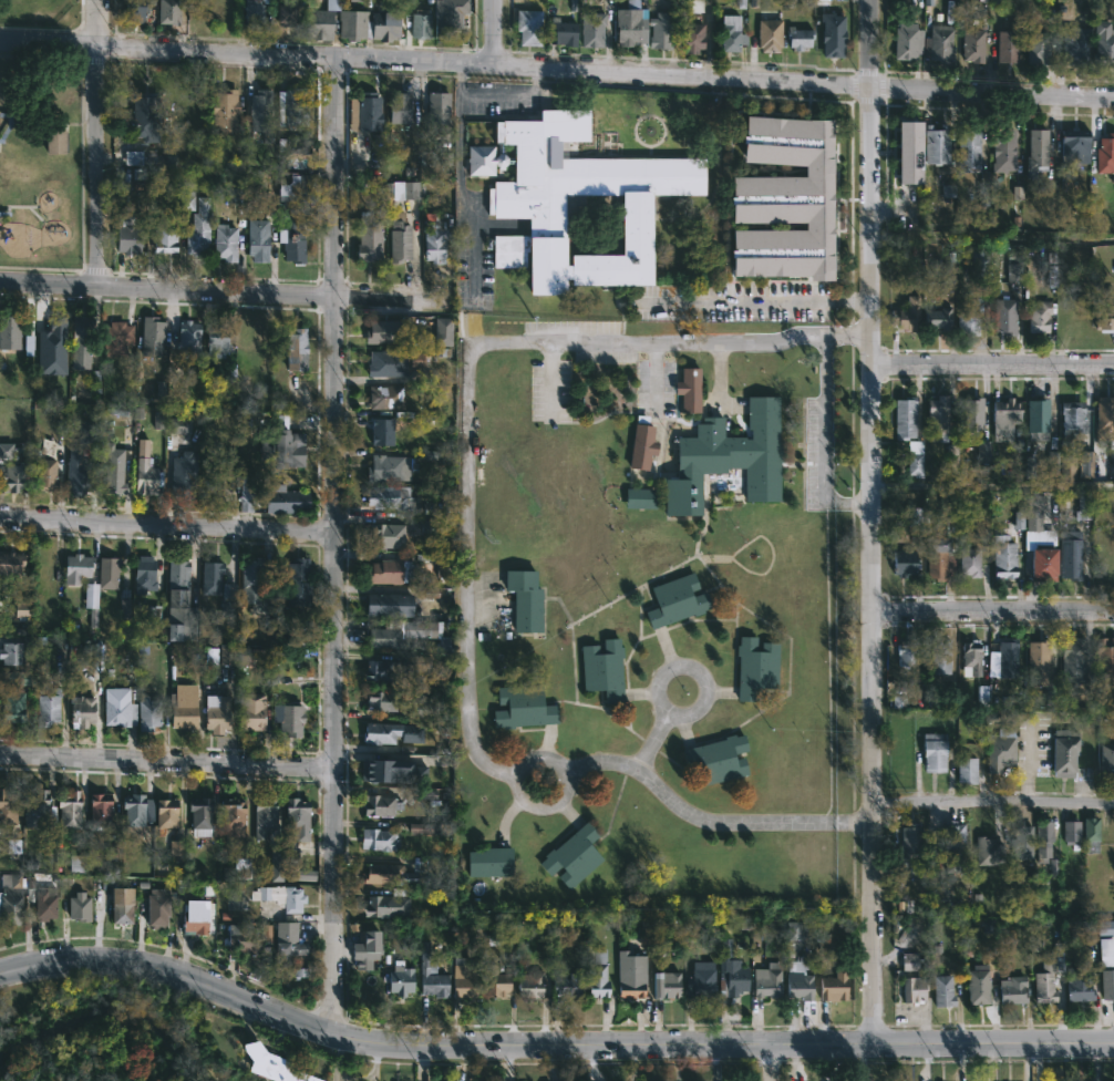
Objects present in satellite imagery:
building: (134, 10)
building: (252, 10)
building: (168, 11)
building: (207, 11)
building: (288, 12)
building: (452, 12)
building: (626, 22)
building: (318, 23)
building: (420, 23)
building: (354, 24)
building: (385, 24)
building: (529, 25)
building: (590, 29)
building: (659, 30)
building: (560, 31)
building: (729, 32)
road: (496, 33)
building: (831, 33)
building: (769, 34)
building: (691, 37)
building: (797, 38)
building: (906, 41)
building: (938, 42)
building: (1075, 43)
building: (1104, 43)
building: (972, 44)
building: (1038, 44)
building: (1009, 45)
road: (557, 71)
road: (493, 101)
building: (398, 107)
building: (437, 107)
building: (291, 109)
building: (258, 110)
building: (223, 111)
building: (367, 111)
building: (143, 119)
building: (902, 138)
building: (53, 142)
road: (99, 142)
building: (935, 144)
building: (1076, 145)
building: (1004, 150)
building: (1038, 150)
building: (291, 151)
building: (967, 151)
building: (1105, 154)
building: (138, 157)
building: (427, 158)
building: (484, 159)
building: (566, 188)
building: (405, 191)
building: (948, 191)
building: (293, 193)
building: (234, 196)
building: (186, 200)
building: (785, 200)
road: (457, 204)
building: (198, 229)
building: (368, 237)
building: (398, 237)
building: (125, 238)
building: (163, 238)
building: (256, 239)
building: (223, 241)
building: (290, 241)
building: (434, 245)
building: (978, 262)
building: (1013, 266)
road: (221, 291)
road: (756, 302)
building: (1104, 308)
building: (1004, 313)
building: (906, 315)
building: (968, 315)
building: (1039, 316)
building: (938, 318)
building: (382, 331)
building: (9, 332)
building: (79, 332)
building: (442, 332)
building: (149, 336)
building: (115, 338)
building: (187, 339)
building: (215, 341)
building: (52, 348)
building: (293, 350)
building: (416, 359)
building: (386, 362)
road: (992, 362)
road: (719, 370)
road: (468, 371)
road: (654, 379)
building: (689, 390)
building: (384, 397)
building: (115, 410)
building: (1004, 413)
building: (970, 415)
building: (1039, 415)
building: (905, 418)
building: (1071, 418)
building: (938, 419)
building: (1105, 420)
building: (157, 422)
building: (179, 426)
building: (381, 432)
road: (823, 444)
building: (47, 446)
building: (642, 446)
building: (280, 447)
building: (6, 451)
building: (983, 452)
building: (729, 457)
building: (915, 457)
building: (1085, 463)
building: (1051, 464)
building: (389, 466)
building: (1067, 469)
building: (145, 470)
building: (1029, 470)
building: (113, 471)
building: (43, 475)
building: (76, 475)
building: (180, 475)
building: (11, 478)
road: (993, 486)
building: (246, 494)
building: (275, 498)
building: (639, 498)
building: (391, 500)
building: (1084, 505)
building: (947, 509)
building: (1034, 512)
building: (912, 516)
building: (1018, 519)
road: (873, 522)
road: (166, 526)
building: (384, 536)
road: (334, 543)
building: (1070, 557)
building: (938, 558)
building: (1003, 559)
building: (902, 563)
building: (968, 563)
building: (436, 564)
building: (1044, 565)
building: (9, 566)
building: (75, 568)
building: (388, 572)
building: (107, 573)
building: (142, 576)
building: (209, 578)
building: (250, 581)
building: (296, 584)
building: (175, 585)
building: (91, 596)
building: (227, 599)
building: (526, 600)
building: (675, 600)
building: (388, 605)
building: (124, 608)
building: (21, 609)
road: (993, 612)
building: (179, 628)
building: (400, 632)
building: (11, 653)
building: (908, 653)
building: (940, 655)
building: (1041, 655)
building: (227, 656)
building: (972, 656)
building: (210, 657)
building: (1104, 657)
building: (1009, 659)
building: (1073, 659)
building: (414, 662)
building: (756, 666)
road: (667, 668)
building: (604, 670)
building: (380, 671)
building: (22, 678)
building: (981, 696)
building: (380, 701)
building: (898, 702)
building: (11, 706)
building: (45, 706)
building: (523, 706)
building: (419, 709)
building: (183, 710)
building: (216, 712)
building: (249, 712)
building: (81, 713)
building: (118, 713)
building: (148, 714)
building: (289, 720)
building: (380, 733)
road: (650, 742)
building: (935, 751)
building: (1065, 752)
building: (999, 753)
building: (718, 758)
building: (1107, 760)
road: (525, 762)
road: (1027, 763)
road: (166, 764)
building: (968, 769)
building: (383, 770)
road: (993, 802)
building: (380, 804)
building: (8, 806)
building: (99, 807)
building: (37, 809)
building: (69, 810)
building: (133, 813)
building: (165, 813)
building: (199, 815)
building: (233, 815)
building: (264, 816)
building: (295, 819)
road: (706, 823)
building: (422, 828)
building: (1072, 830)
building: (1092, 833)
building: (955, 835)
building: (1044, 836)
building: (377, 837)
building: (910, 840)
building: (1023, 842)
building: (176, 847)
building: (113, 851)
building: (990, 851)
building: (574, 855)
building: (489, 862)
building: (75, 863)
building: (276, 864)
building: (420, 865)
building: (237, 868)
building: (916, 872)
building: (388, 874)
building: (300, 875)
building: (10, 898)
building: (279, 898)
building: (44, 902)
building: (121, 903)
building: (157, 904)
building: (79, 906)
building: (381, 907)
building: (196, 918)
building: (794, 930)
building: (265, 933)
building: (241, 943)
building: (286, 943)
building: (365, 950)
building: (1106, 950)
building: (910, 961)
building: (731, 971)
building: (300, 972)
building: (432, 974)
building: (597, 974)
building: (631, 974)
building: (396, 978)
building: (465, 978)
building: (798, 980)
building: (765, 981)
building: (1043, 981)
building: (496, 982)
building: (530, 984)
building: (979, 984)
building: (568, 985)
building: (667, 985)
building: (835, 985)
building: (1107, 985)
building: (699, 987)
building: (1079, 987)
building: (912, 988)
building: (1012, 989)
building: (945, 990)
park: (89, 1031)
road: (996, 1042)
road: (431, 1043)
road: (771, 1062)
building: (272, 1064)

